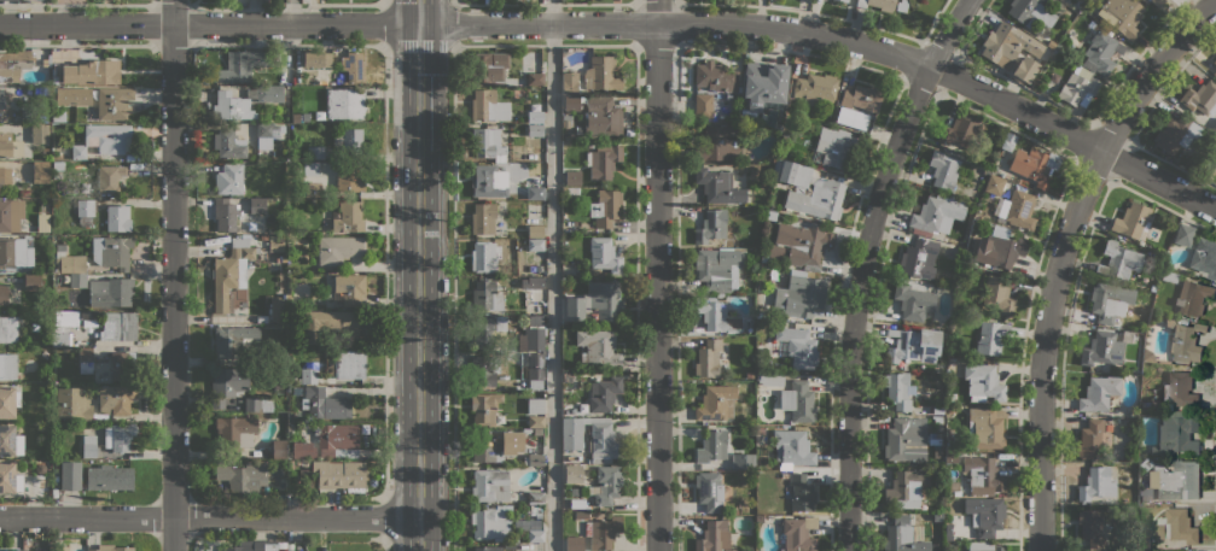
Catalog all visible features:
building: (10, 0)
building: (844, 0)
building: (1158, 1)
road: (452, 2)
building: (878, 4)
road: (292, 12)
building: (1036, 13)
building: (1122, 14)
road: (564, 23)
building: (1092, 23)
road: (453, 24)
building: (1051, 43)
building: (1007, 45)
building: (1101, 52)
building: (1045, 53)
building: (316, 58)
building: (1215, 60)
building: (13, 64)
building: (242, 65)
building: (353, 66)
building: (488, 66)
building: (1024, 68)
building: (92, 72)
building: (600, 72)
building: (1215, 74)
building: (715, 77)
building: (535, 78)
building: (569, 82)
building: (763, 83)
building: (1036, 87)
building: (1078, 87)
building: (815, 88)
building: (72, 95)
building: (5, 98)
building: (862, 98)
building: (1200, 98)
building: (243, 101)
building: (114, 102)
building: (345, 102)
building: (571, 102)
building: (487, 105)
building: (703, 105)
building: (28, 111)
building: (58, 116)
building: (534, 116)
building: (604, 116)
building: (297, 117)
building: (43, 118)
building: (851, 118)
building: (568, 121)
building: (779, 128)
building: (1214, 128)
building: (535, 130)
building: (960, 131)
building: (39, 133)
building: (1176, 134)
building: (267, 135)
building: (104, 139)
building: (349, 140)
building: (1008, 141)
building: (1215, 141)
building: (717, 142)
building: (228, 143)
building: (488, 143)
building: (10, 145)
building: (836, 146)
building: (315, 152)
building: (603, 160)
building: (1035, 165)
building: (1211, 166)
building: (539, 168)
building: (314, 169)
building: (943, 170)
building: (40, 172)
building: (793, 174)
building: (5, 176)
building: (572, 177)
building: (109, 178)
building: (228, 178)
building: (348, 178)
building: (487, 181)
road: (1159, 181)
building: (994, 184)
building: (717, 186)
building: (312, 188)
building: (25, 193)
building: (535, 193)
building: (818, 199)
building: (257, 206)
building: (605, 207)
building: (1017, 210)
building: (85, 211)
building: (11, 215)
building: (225, 215)
building: (565, 215)
building: (936, 215)
building: (770, 216)
building: (117, 217)
building: (348, 217)
building: (483, 218)
building: (1133, 219)
building: (43, 222)
building: (711, 225)
building: (534, 230)
building: (1198, 231)
building: (1183, 234)
building: (290, 238)
building: (263, 239)
building: (518, 241)
building: (275, 244)
building: (803, 244)
building: (535, 245)
building: (60, 247)
building: (339, 248)
building: (999, 248)
building: (111, 251)
building: (14, 253)
building: (501, 253)
building: (773, 253)
road: (1064, 253)
building: (604, 254)
building: (483, 257)
building: (1204, 257)
building: (919, 258)
building: (1119, 260)
building: (70, 263)
building: (524, 263)
road: (862, 265)
building: (715, 266)
building: (1018, 269)
building: (231, 271)
building: (580, 274)
road: (173, 275)
road: (419, 275)
road: (552, 275)
road: (657, 275)
building: (1169, 276)
building: (77, 280)
building: (33, 281)
building: (535, 282)
building: (350, 288)
building: (111, 292)
building: (4, 293)
building: (997, 294)
building: (485, 295)
building: (803, 295)
road: (454, 297)
building: (1193, 298)
building: (913, 301)
building: (595, 303)
building: (1104, 303)
building: (293, 304)
building: (278, 310)
building: (716, 313)
building: (89, 315)
building: (761, 315)
building: (65, 320)
building: (118, 326)
building: (330, 326)
building: (8, 329)
building: (485, 332)
building: (534, 334)
building: (990, 338)
building: (60, 339)
building: (231, 339)
building: (1185, 341)
building: (913, 345)
building: (796, 346)
building: (598, 347)
building: (1105, 347)
building: (45, 354)
building: (1147, 354)
building: (279, 357)
building: (708, 358)
building: (86, 361)
building: (950, 362)
building: (121, 364)
building: (350, 364)
building: (8, 367)
building: (484, 369)
building: (535, 370)
building: (309, 375)
building: (750, 375)
building: (983, 382)
building: (228, 383)
building: (278, 389)
building: (1179, 391)
building: (897, 392)
building: (1099, 392)
building: (604, 394)
building: (1145, 397)
building: (116, 399)
building: (8, 401)
building: (797, 401)
building: (74, 404)
building: (257, 404)
building: (325, 404)
building: (715, 404)
building: (535, 405)
building: (1145, 405)
building: (485, 408)
building: (935, 410)
building: (949, 410)
building: (938, 418)
building: (1119, 421)
building: (535, 422)
building: (47, 426)
building: (938, 426)
building: (987, 427)
building: (233, 429)
building: (760, 430)
building: (1176, 434)
building: (118, 436)
building: (592, 438)
building: (7, 439)
building: (906, 439)
building: (933, 439)
building: (337, 440)
building: (1092, 440)
building: (495, 445)
building: (88, 446)
building: (712, 446)
building: (949, 447)
building: (279, 449)
building: (792, 449)
building: (303, 450)
building: (952, 458)
building: (535, 459)
building: (743, 461)
building: (290, 464)
building: (1145, 464)
building: (40, 468)
building: (572, 473)
building: (70, 475)
building: (243, 475)
building: (297, 475)
building: (341, 475)
building: (983, 476)
building: (6, 477)
building: (109, 477)
building: (1175, 480)
building: (1096, 483)
building: (606, 485)
building: (490, 486)
building: (906, 488)
building: (709, 490)
building: (575, 491)
building: (801, 492)
building: (535, 498)
building: (531, 510)
building: (1112, 510)
building: (733, 511)
building: (581, 514)
building: (985, 515)
building: (938, 516)
road: (210, 517)
building: (491, 522)
building: (1090, 527)
building: (1176, 527)
building: (530, 528)
building: (948, 529)
building: (603, 532)
building: (797, 534)
building: (714, 537)
building: (906, 537)
building: (1129, 541)
building: (574, 544)
building: (1145, 545)
building: (50, 546)
building: (256, 546)
building: (985, 546)
building: (62, 547)
building: (112, 547)
building: (13, 549)
building: (488, 549)

